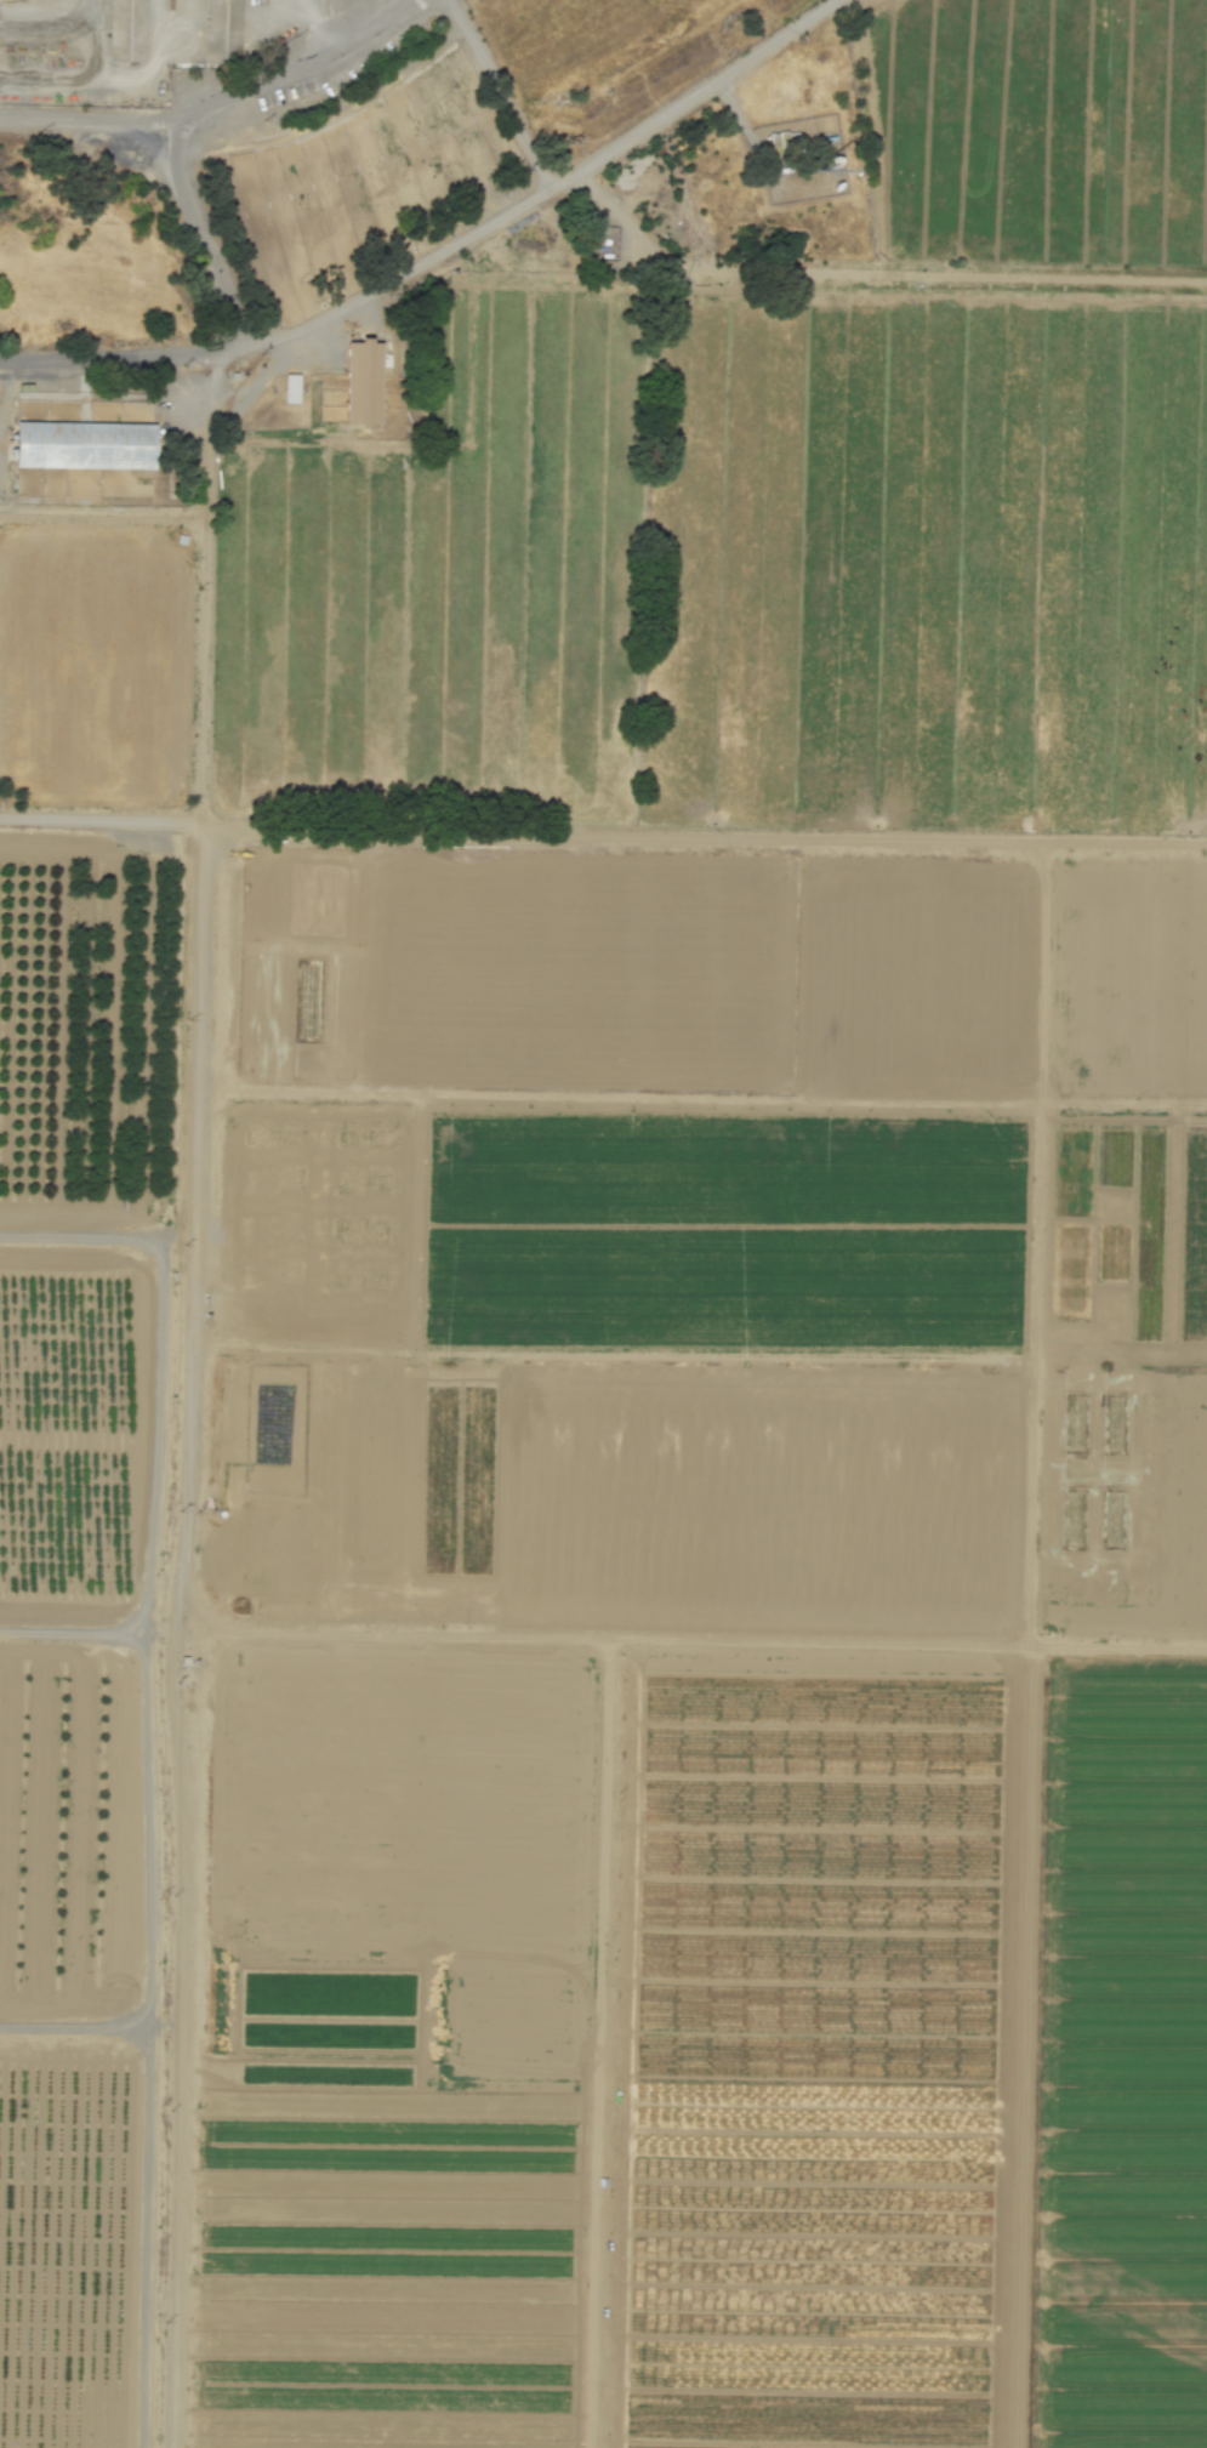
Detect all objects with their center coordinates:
road: (318, 24)
building: (130, 30)
building: (221, 30)
road: (112, 79)
road: (499, 93)
road: (213, 101)
road: (741, 129)
road: (548, 190)
road: (198, 230)
road: (873, 273)
road: (120, 357)
building: (361, 382)
road: (5, 383)
building: (290, 387)
building: (85, 445)
road: (203, 585)
road: (603, 831)
road: (95, 1235)
crop: (632, 1353)
road: (156, 1433)
road: (170, 1635)
road: (147, 1824)

